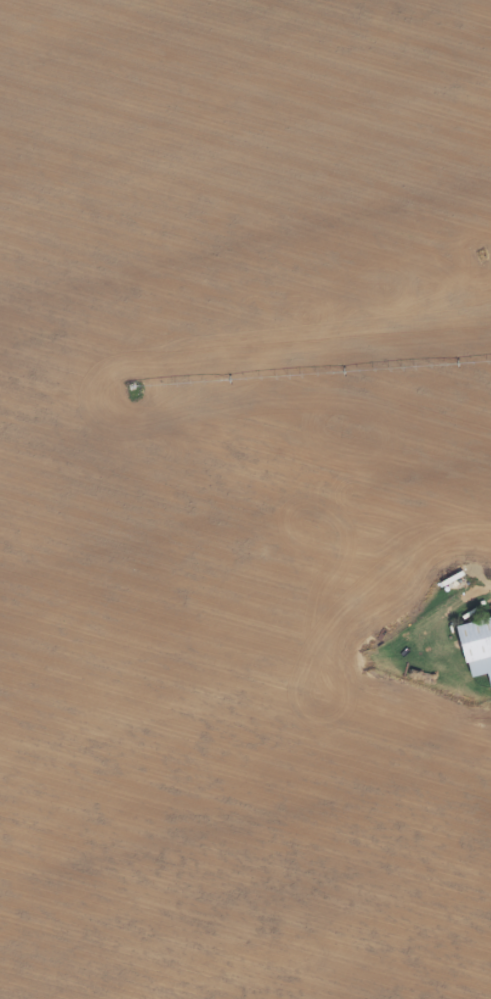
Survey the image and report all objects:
building: (474, 648)
road: (243, 679)

